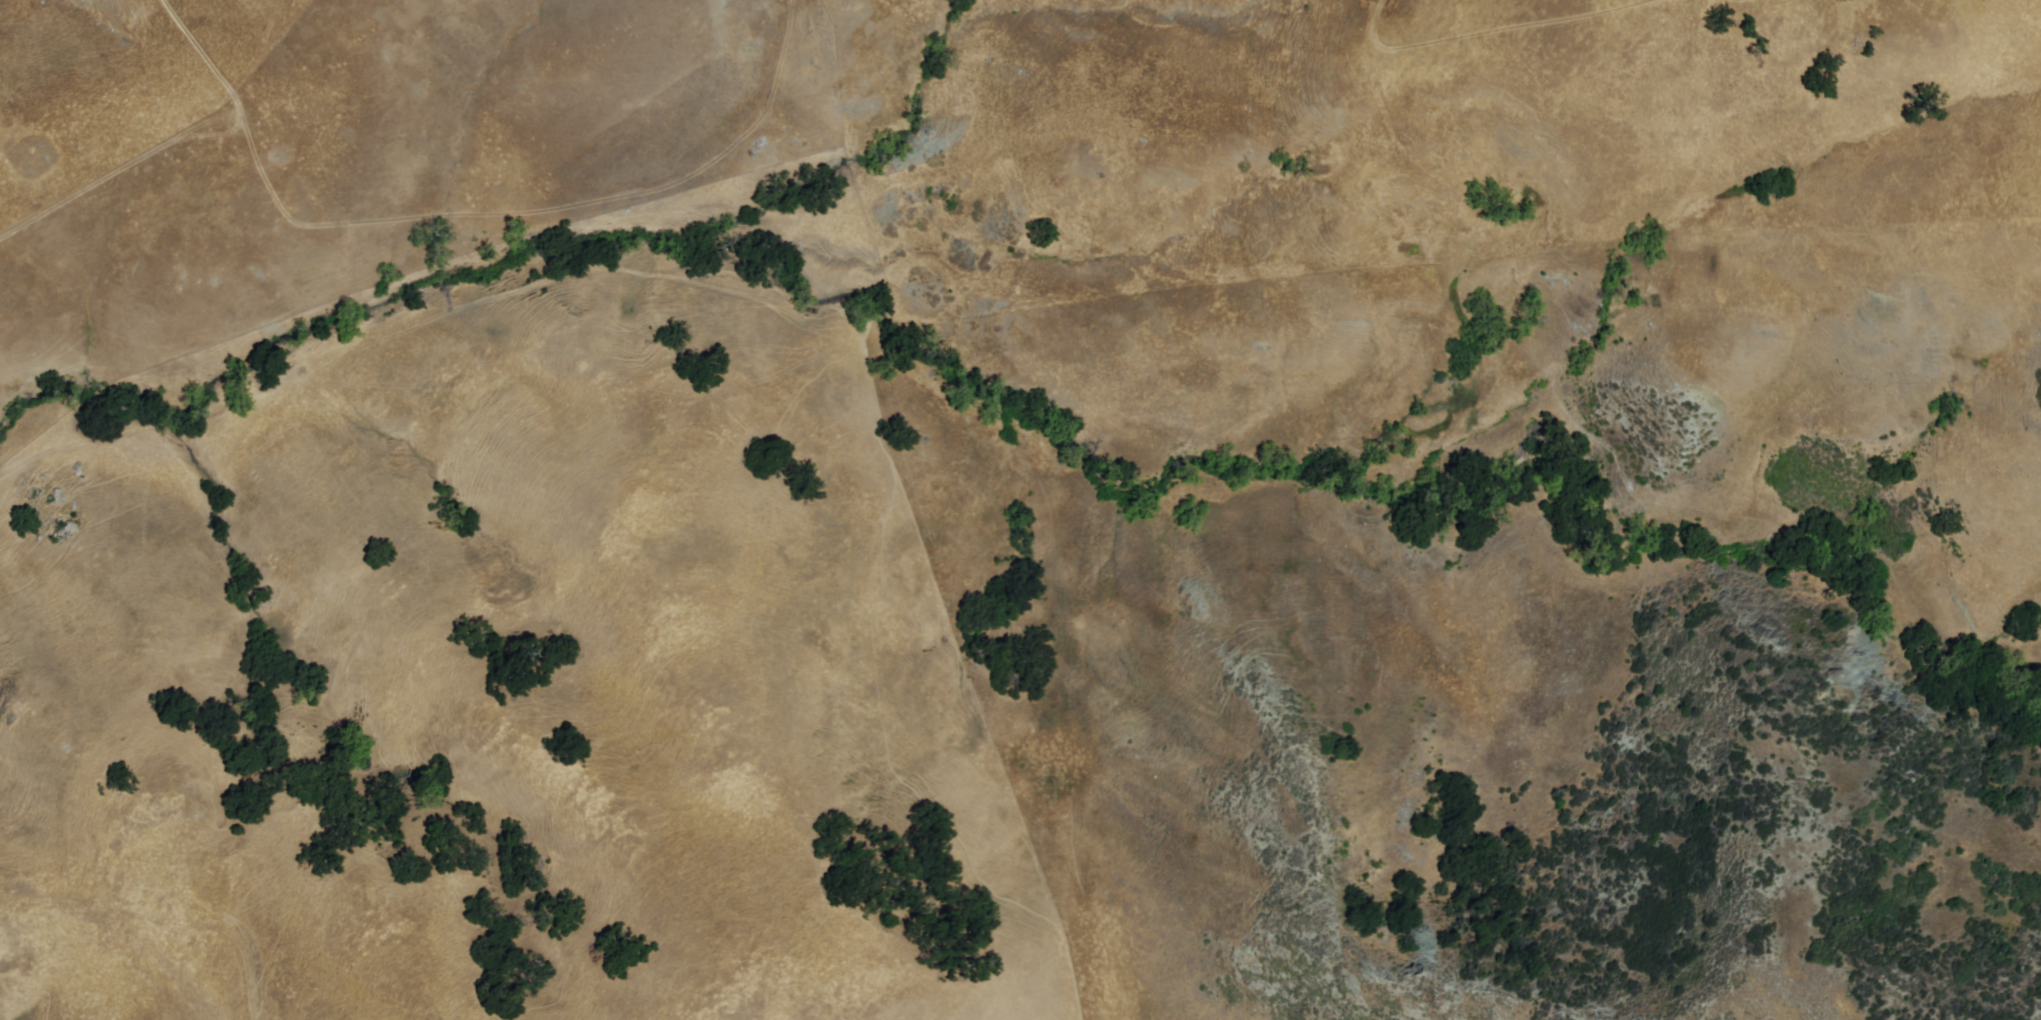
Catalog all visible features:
road: (166, 136)
road: (81, 445)

